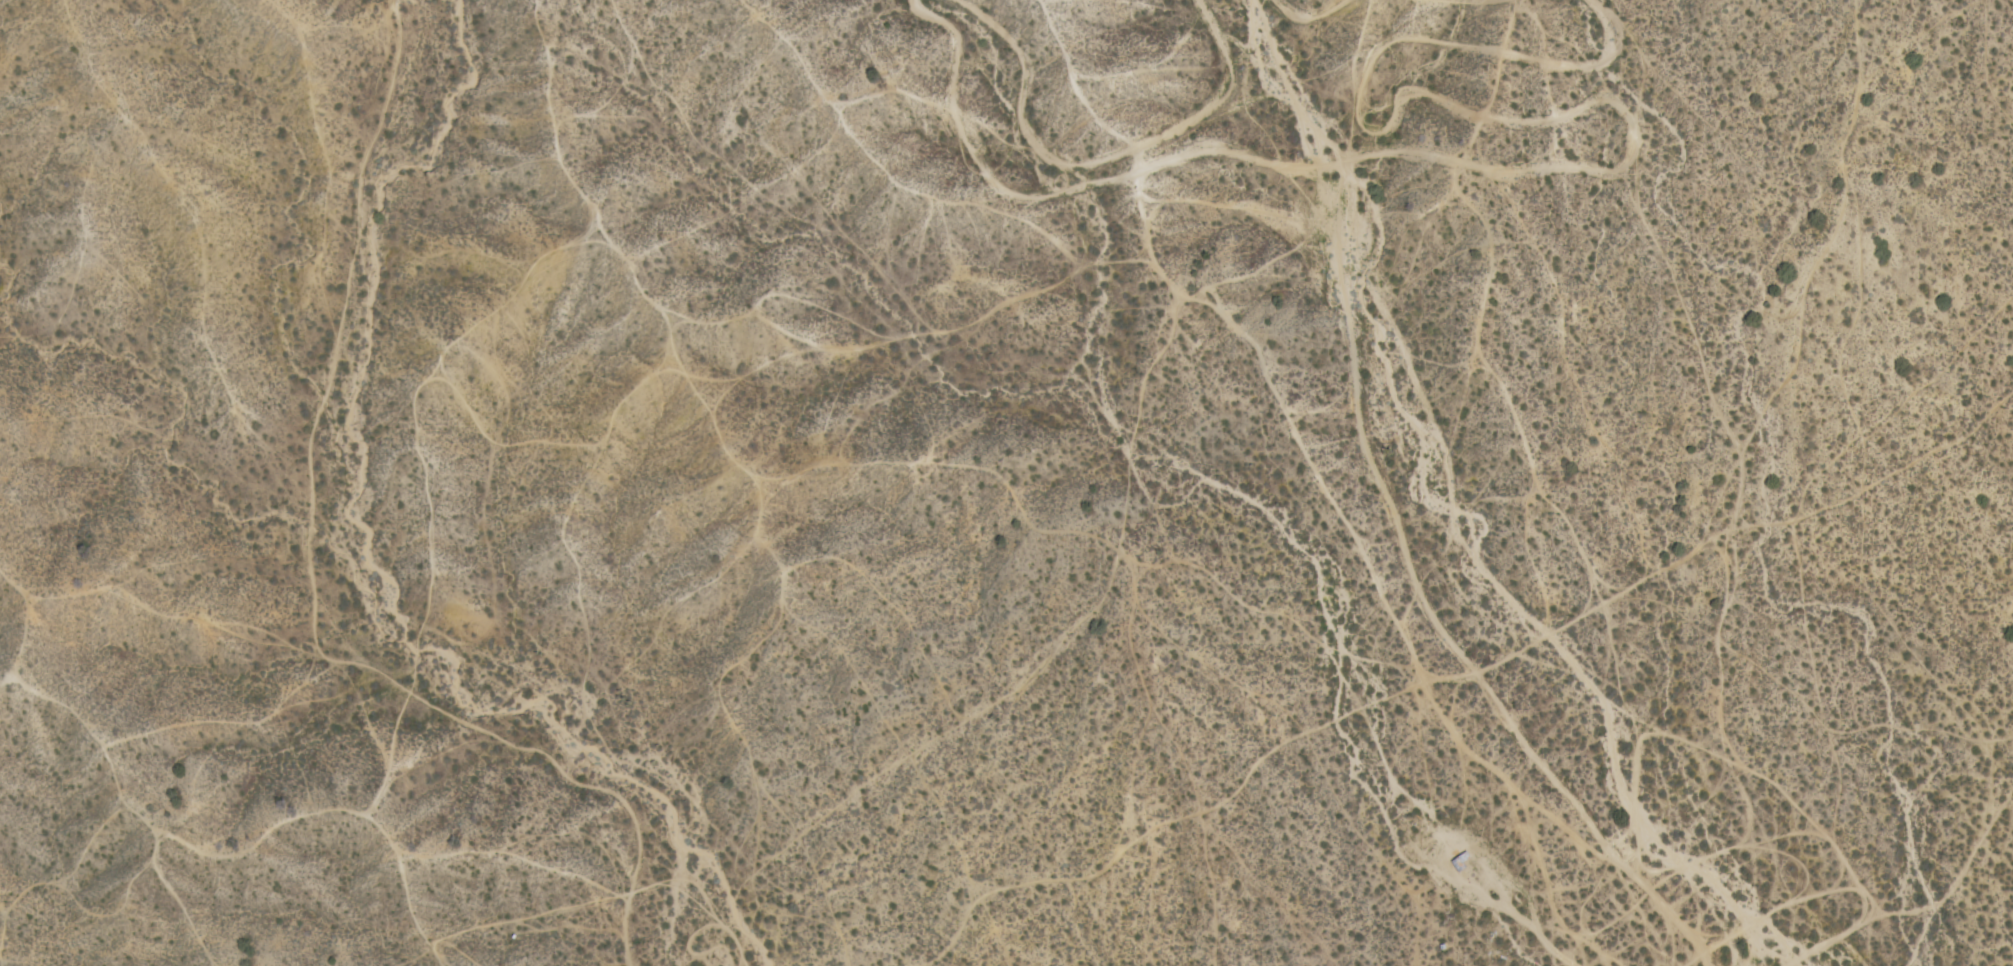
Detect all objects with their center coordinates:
road: (313, 563)

